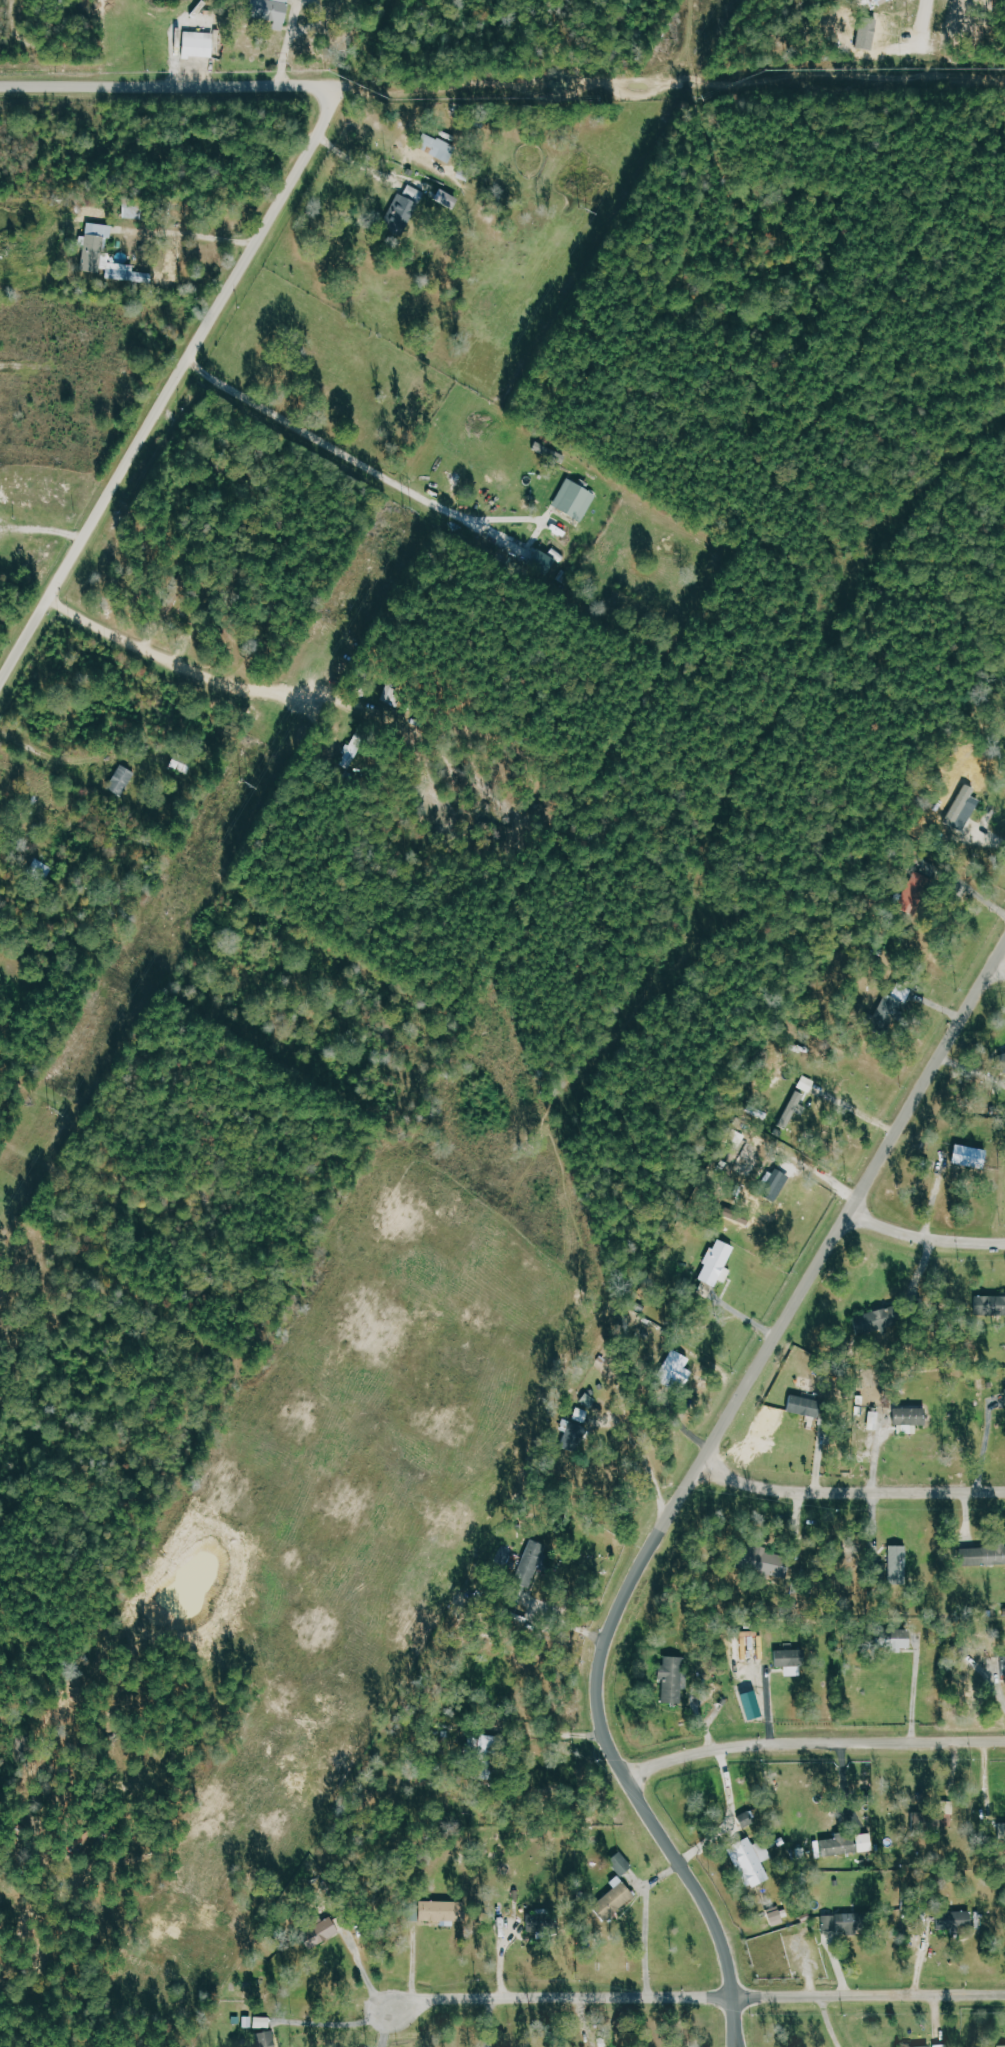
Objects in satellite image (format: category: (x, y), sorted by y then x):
building: (274, 10)
road: (938, 27)
building: (201, 45)
road: (13, 93)
road: (185, 95)
building: (440, 148)
building: (451, 200)
building: (407, 209)
power tower: (582, 209)
building: (101, 233)
road: (196, 234)
building: (132, 275)
road: (176, 393)
road: (355, 459)
building: (573, 500)
power tower: (408, 510)
building: (543, 557)
road: (194, 671)
building: (392, 692)
building: (184, 765)
building: (124, 780)
power tower: (239, 780)
building: (963, 808)
road: (989, 837)
road: (1001, 964)
building: (894, 1005)
building: (1001, 1061)
building: (809, 1084)
power tower: (53, 1109)
building: (792, 1109)
road: (859, 1110)
building: (967, 1156)
building: (771, 1183)
road: (926, 1236)
building: (717, 1264)
building: (988, 1305)
building: (872, 1321)
building: (673, 1370)
building: (1004, 1396)
building: (800, 1405)
building: (908, 1419)
building: (574, 1432)
road: (649, 1463)
road: (696, 1471)
road: (849, 1490)
building: (982, 1554)
building: (528, 1564)
building: (892, 1566)
road: (565, 1619)
building: (895, 1640)
building: (784, 1657)
building: (1003, 1664)
building: (670, 1679)
road: (548, 1732)
road: (814, 1741)
road: (732, 1816)
building: (939, 1816)
building: (844, 1844)
building: (749, 1860)
building: (619, 1863)
building: (611, 1899)
building: (429, 1911)
building: (775, 1918)
building: (835, 1921)
road: (647, 1925)
building: (316, 1930)
road: (365, 1970)
road: (829, 1995)
road: (529, 2003)
building: (254, 2022)
road: (341, 2022)
road: (498, 2025)
road: (391, 2026)
road: (736, 2033)
road: (740, 2033)
building: (265, 2039)
building: (916, 2046)
building: (1003, 2046)

